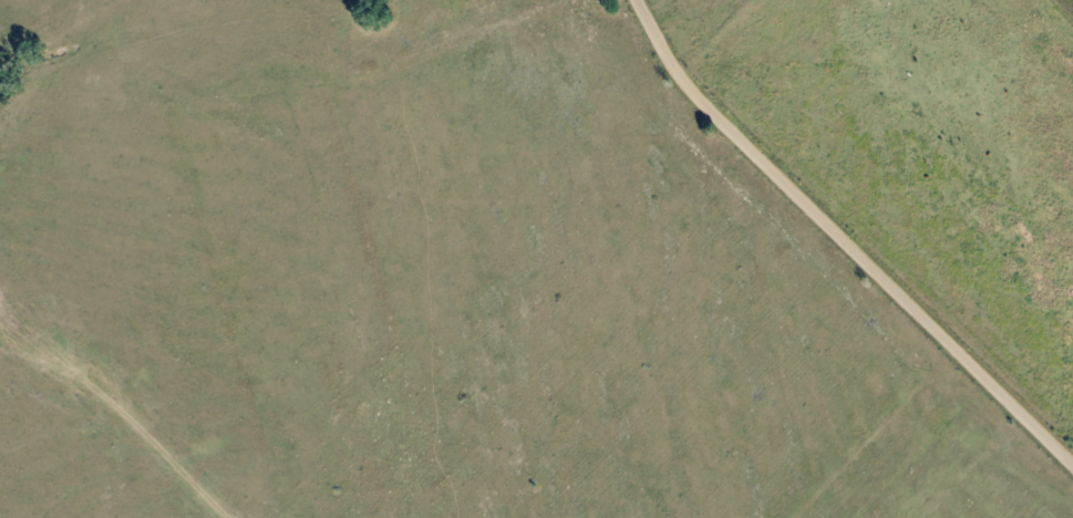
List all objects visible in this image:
road: (847, 238)

